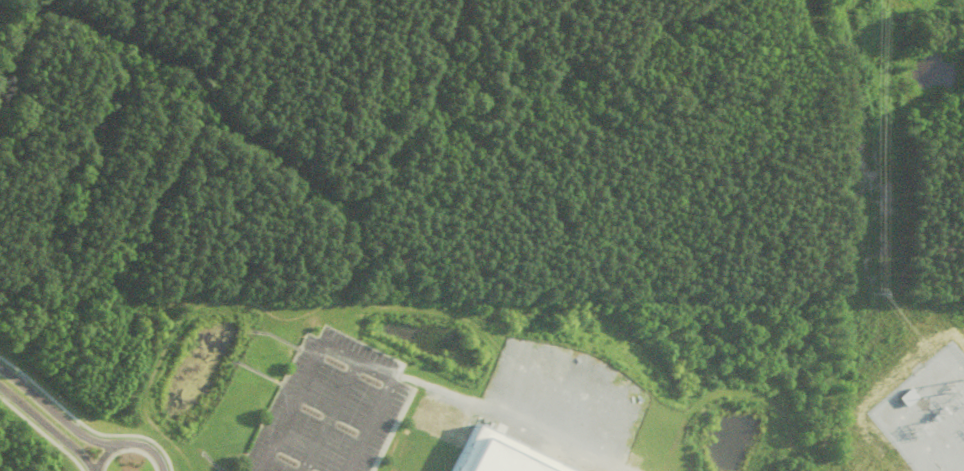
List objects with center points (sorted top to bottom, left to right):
road: (339, 355)
road: (55, 414)
road: (47, 426)
road: (129, 444)
building: (492, 456)

